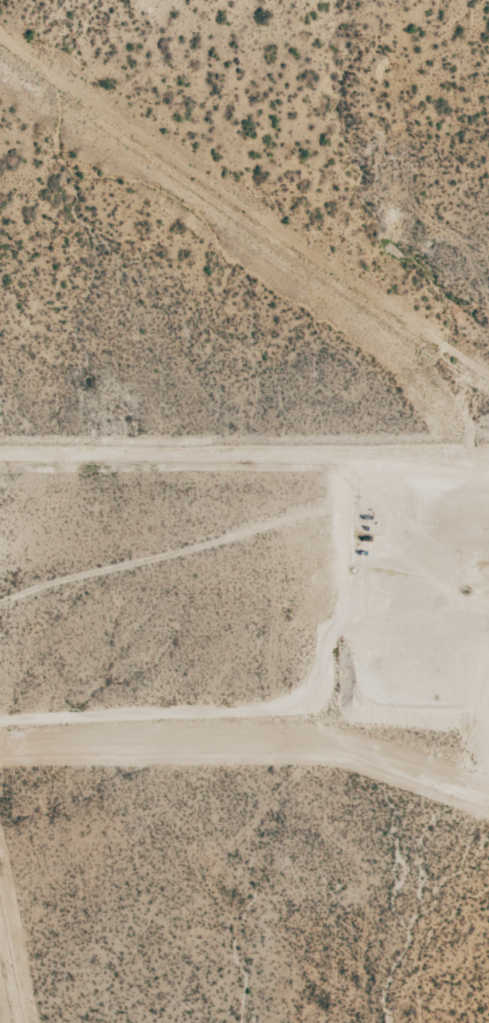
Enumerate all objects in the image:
road: (244, 718)

